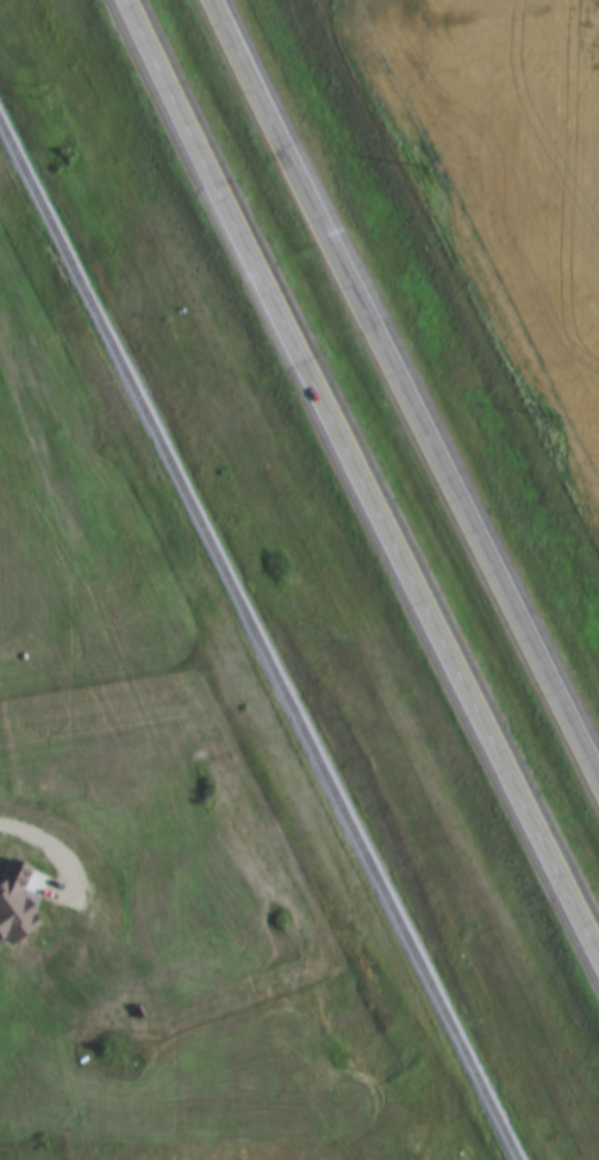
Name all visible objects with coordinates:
road: (407, 383)
road: (364, 470)
railway: (258, 641)

